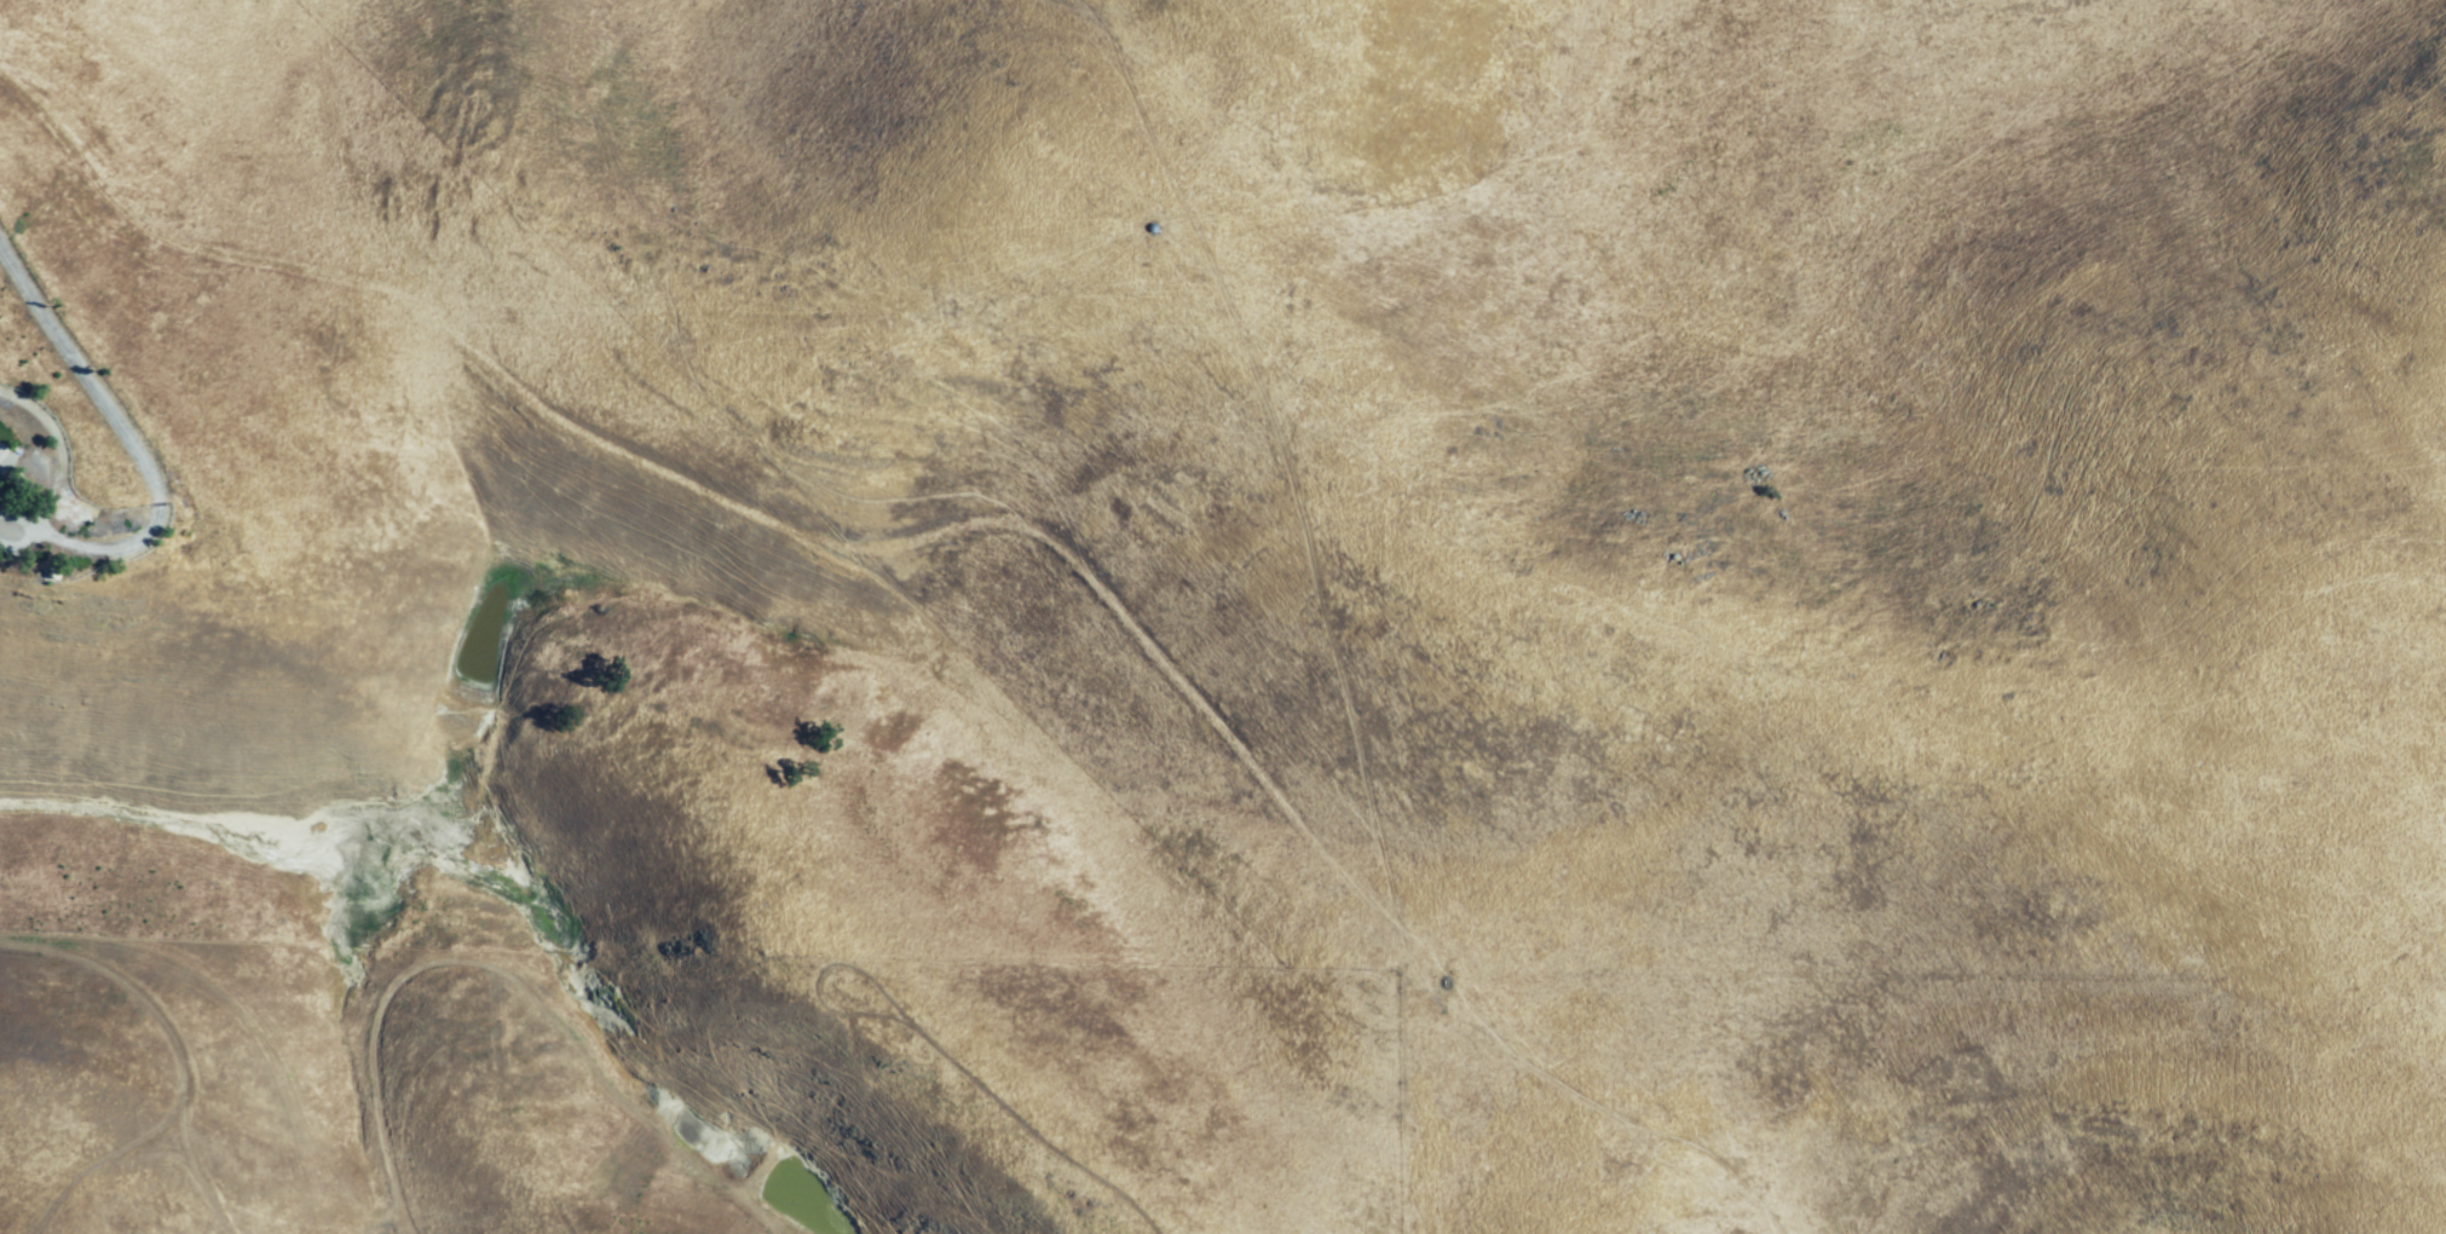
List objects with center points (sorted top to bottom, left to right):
road: (121, 455)

